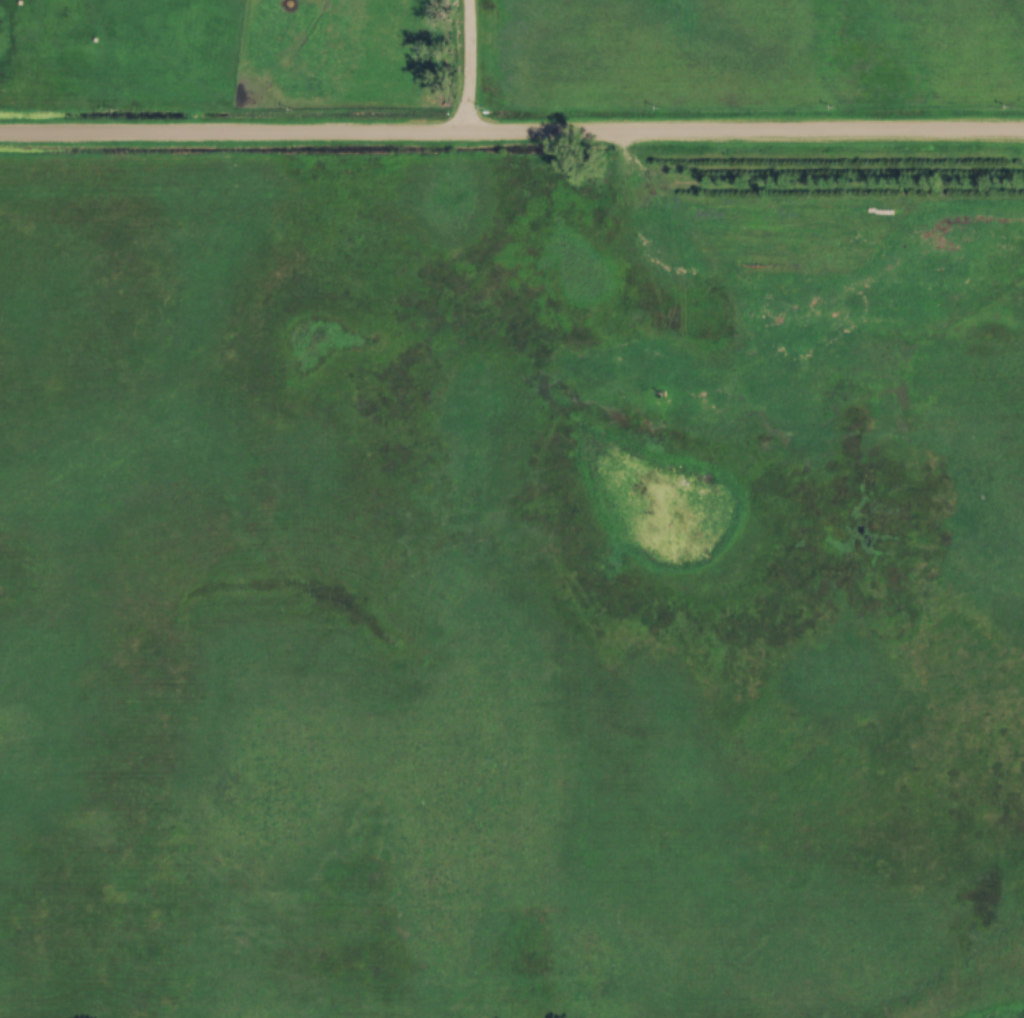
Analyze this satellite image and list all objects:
road: (469, 69)
road: (512, 137)

